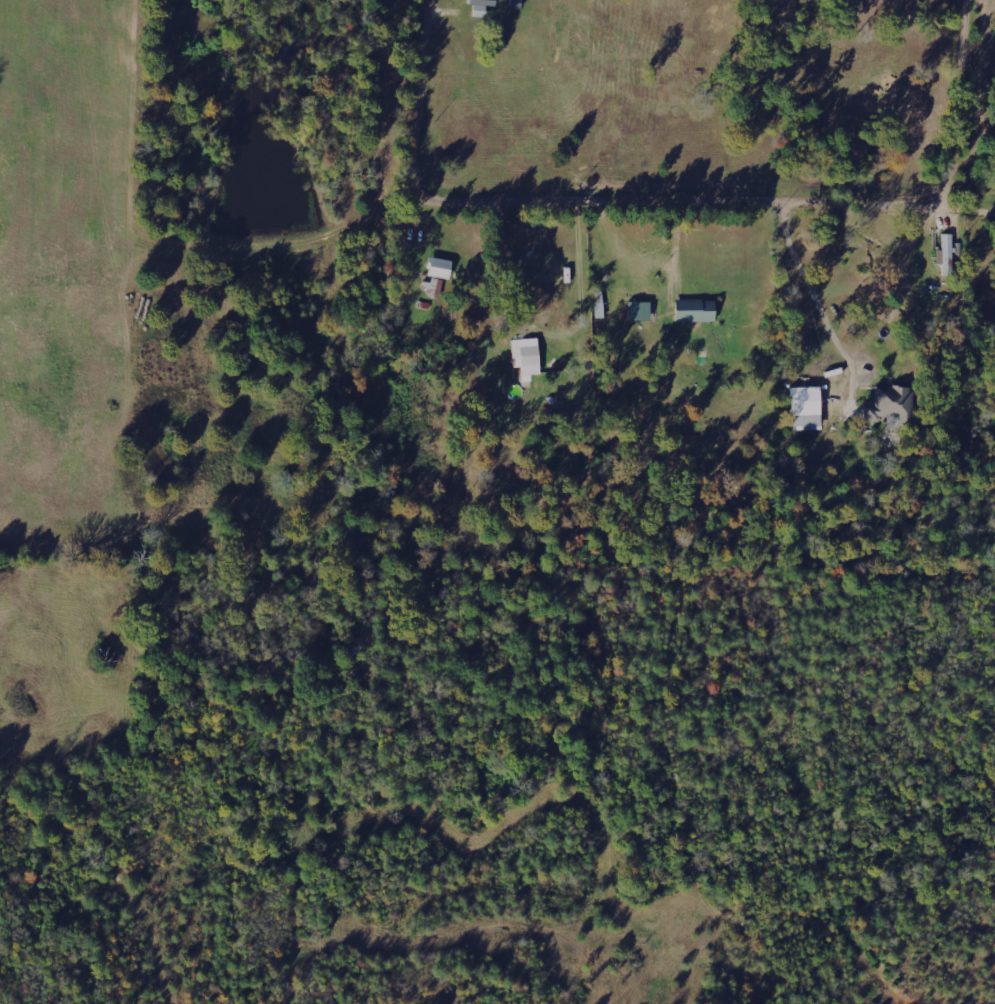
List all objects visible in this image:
road: (686, 201)
building: (947, 255)
building: (440, 267)
road: (582, 308)
building: (696, 310)
building: (640, 311)
building: (527, 356)
building: (807, 406)
building: (891, 406)

